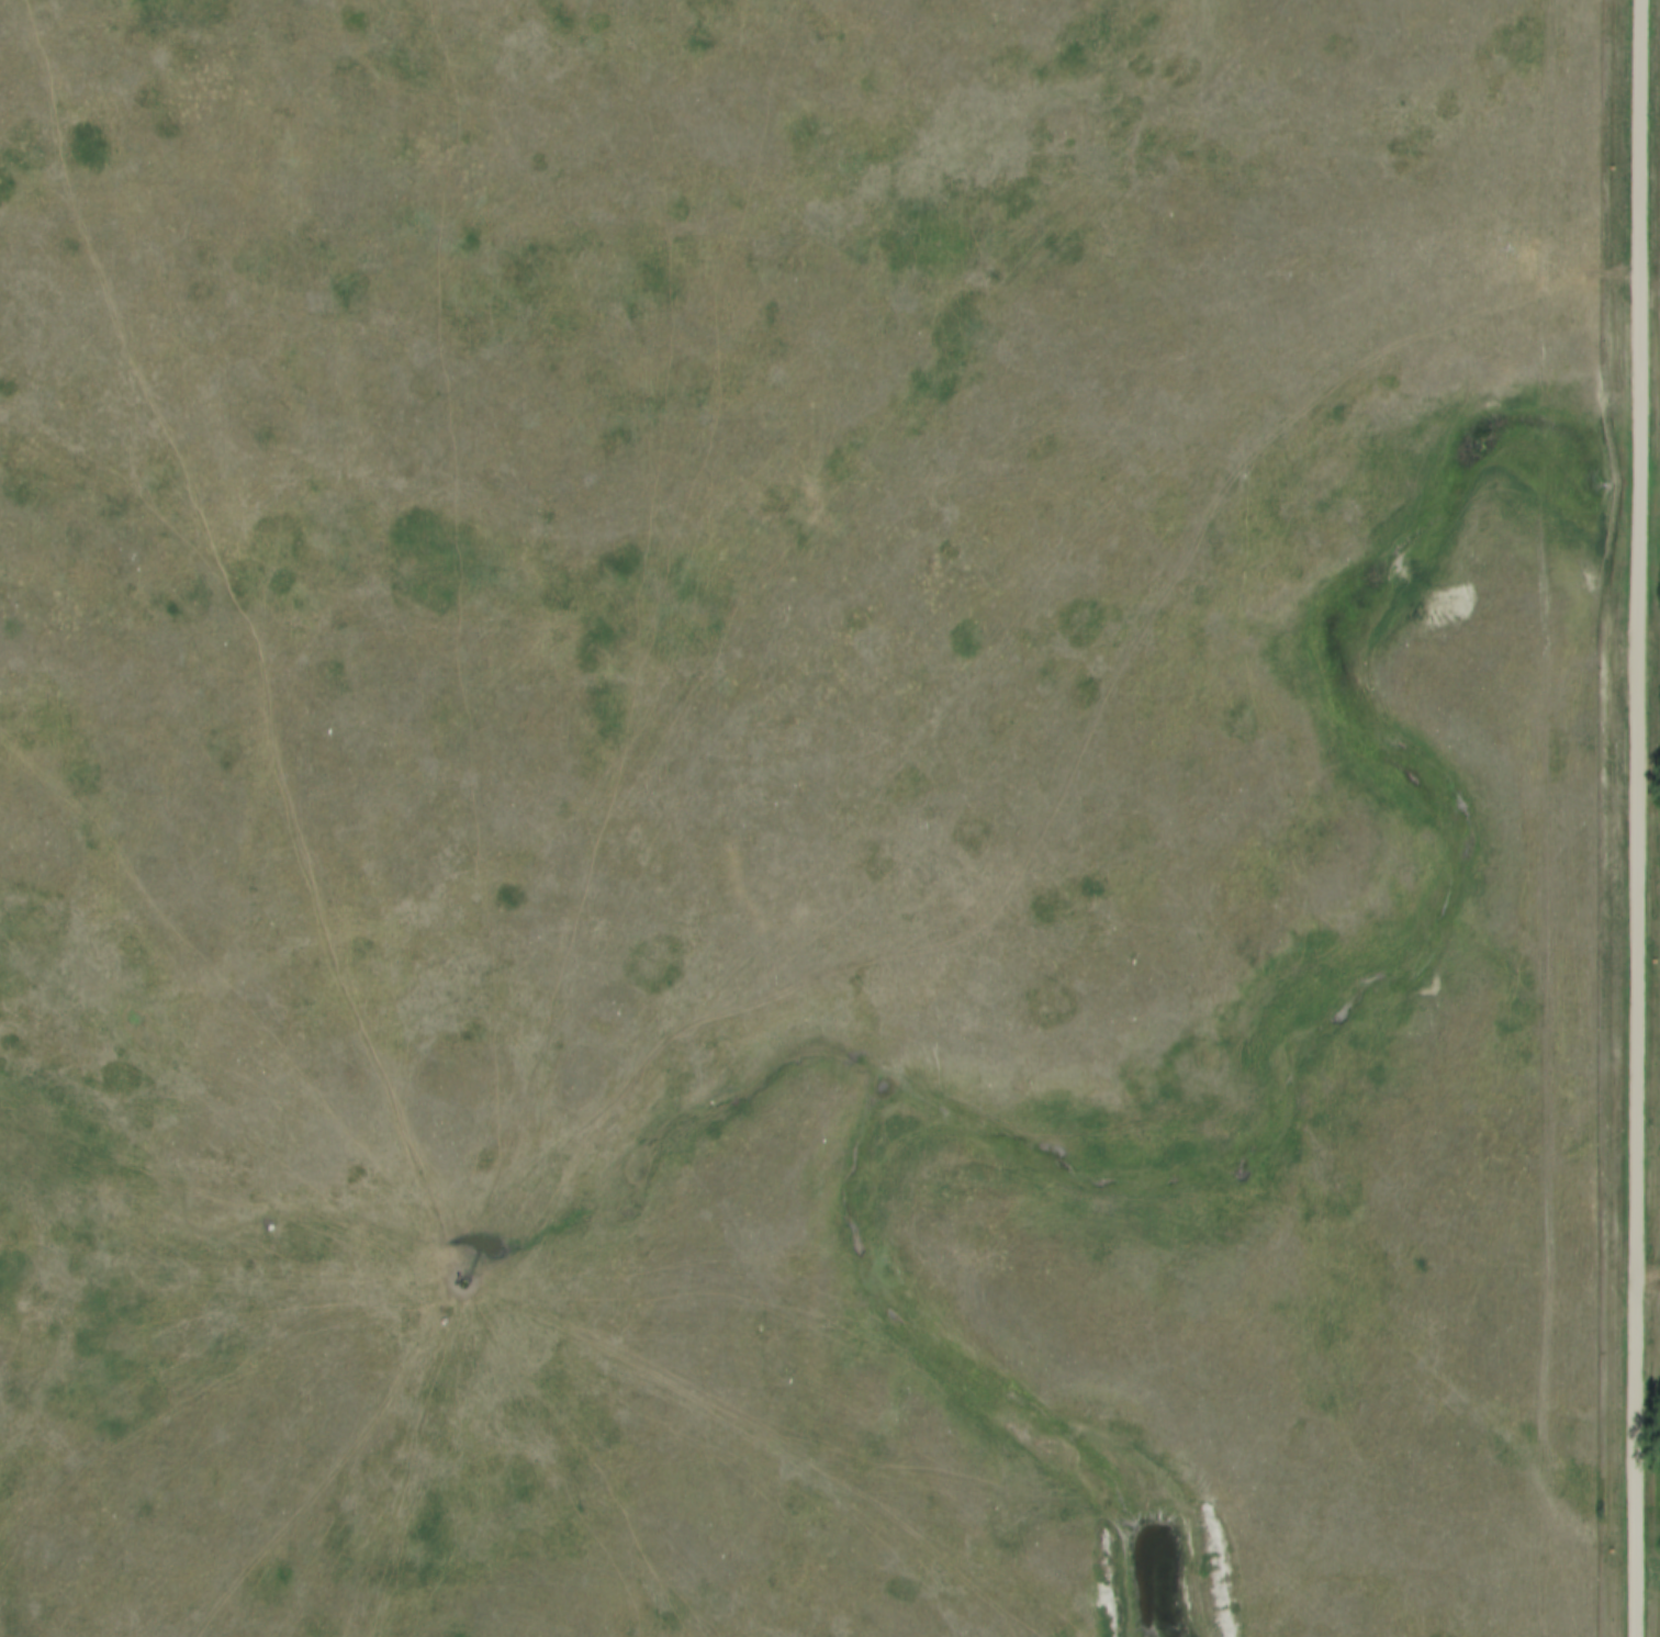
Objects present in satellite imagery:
road: (1639, 818)

